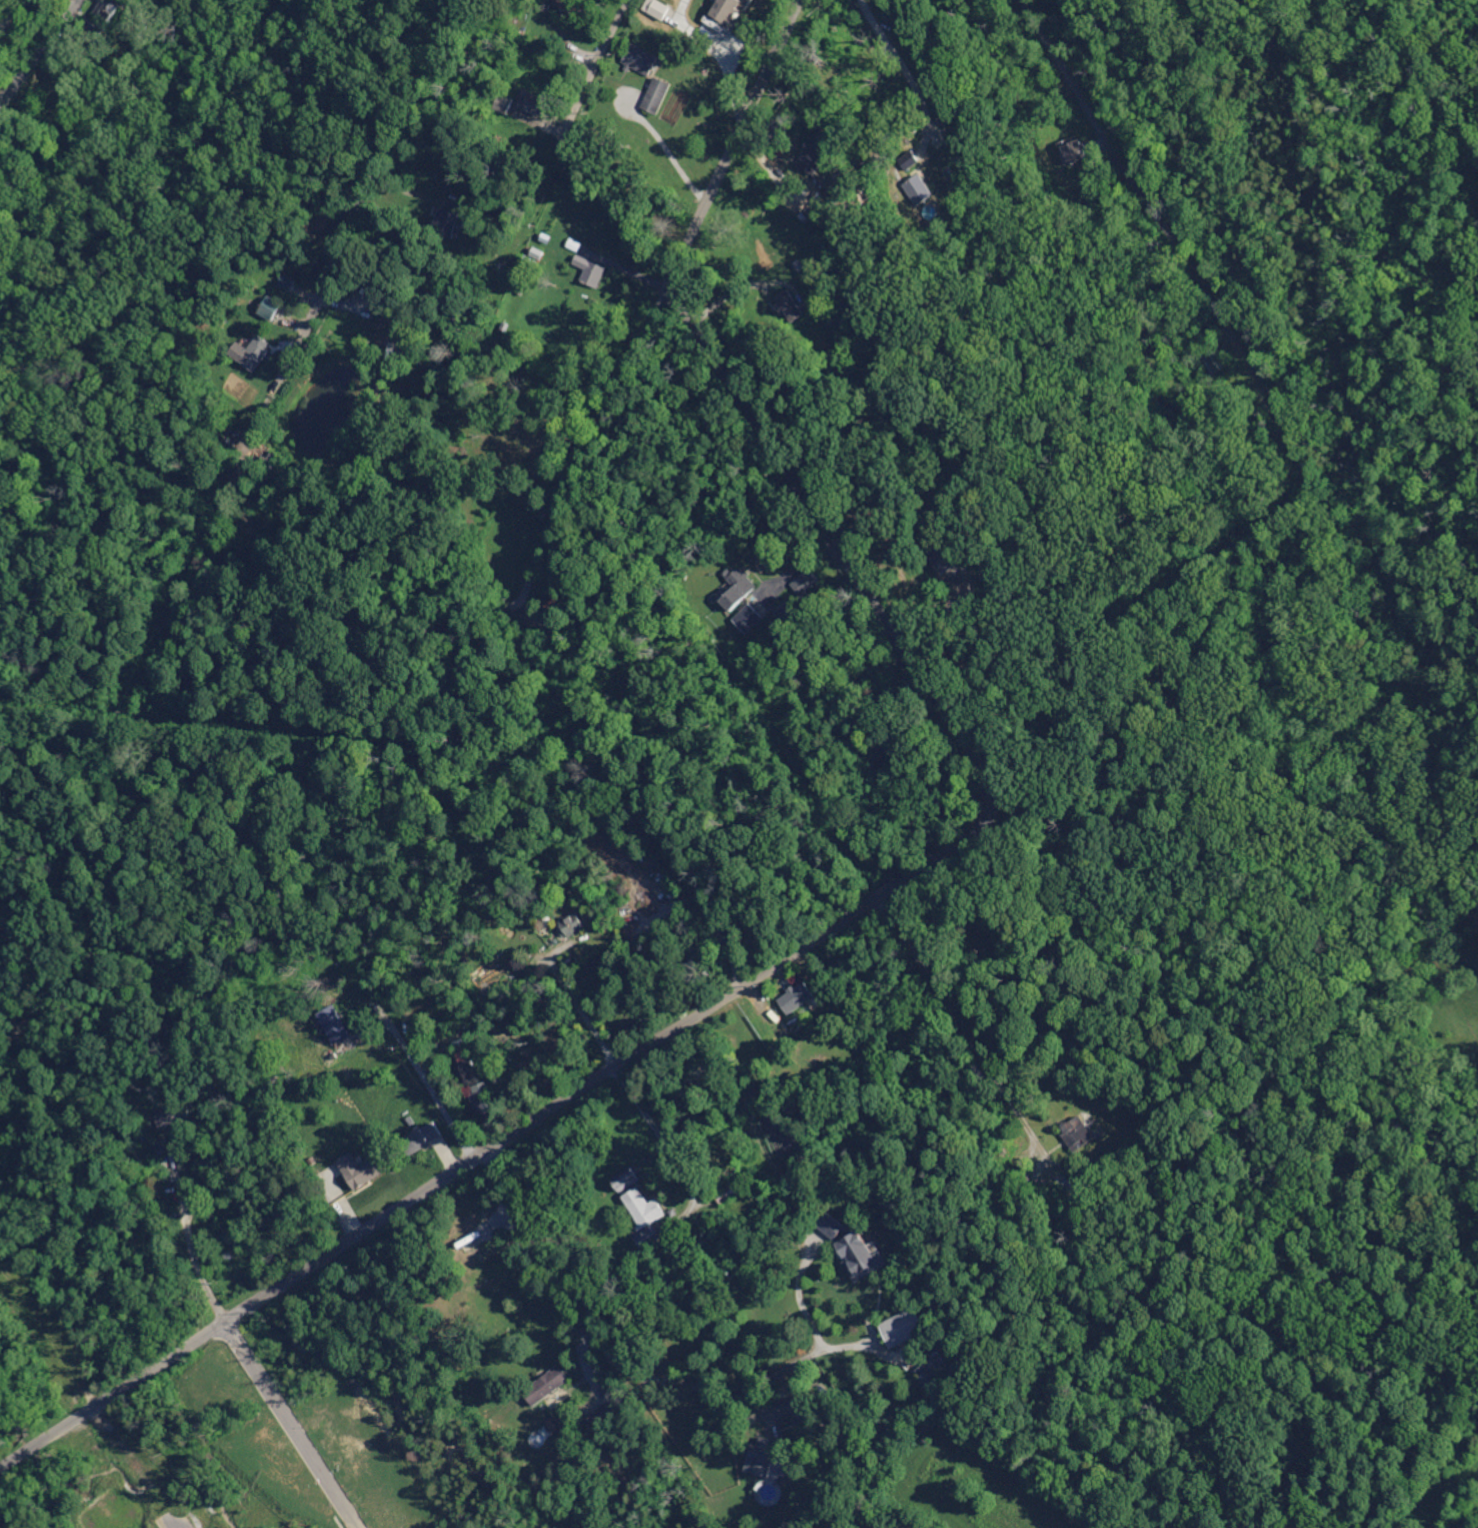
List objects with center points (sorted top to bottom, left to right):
building: (565, 4)
building: (107, 9)
building: (726, 10)
road: (898, 50)
building: (640, 58)
road: (39, 59)
road: (600, 61)
building: (656, 94)
building: (531, 101)
building: (503, 103)
road: (666, 149)
building: (1072, 149)
building: (817, 150)
road: (369, 182)
building: (917, 188)
road: (1143, 197)
building: (445, 220)
building: (589, 269)
building: (287, 281)
road: (731, 292)
road: (663, 297)
building: (788, 306)
building: (270, 307)
building: (251, 351)
building: (1212, 359)
road: (824, 530)
building: (942, 552)
building: (804, 581)
building: (736, 587)
building: (787, 612)
building: (748, 617)
road: (890, 914)
building: (569, 923)
road: (770, 968)
building: (795, 996)
road: (950, 1007)
road: (585, 1010)
building: (334, 1025)
building: (269, 1076)
road: (428, 1086)
building: (483, 1099)
building: (174, 1116)
building: (411, 1122)
building: (1076, 1131)
building: (142, 1134)
road: (667, 1135)
building: (422, 1139)
building: (334, 1150)
building: (363, 1169)
building: (625, 1178)
road: (138, 1201)
building: (830, 1225)
building: (647, 1233)
building: (472, 1240)
road: (185, 1245)
building: (860, 1256)
road: (255, 1300)
building: (902, 1327)
road: (770, 1378)
road: (449, 1381)
building: (547, 1386)
building: (802, 1410)
building: (602, 1418)
road: (298, 1422)
building: (554, 1424)
building: (763, 1456)
building: (784, 1469)
road: (167, 1520)

